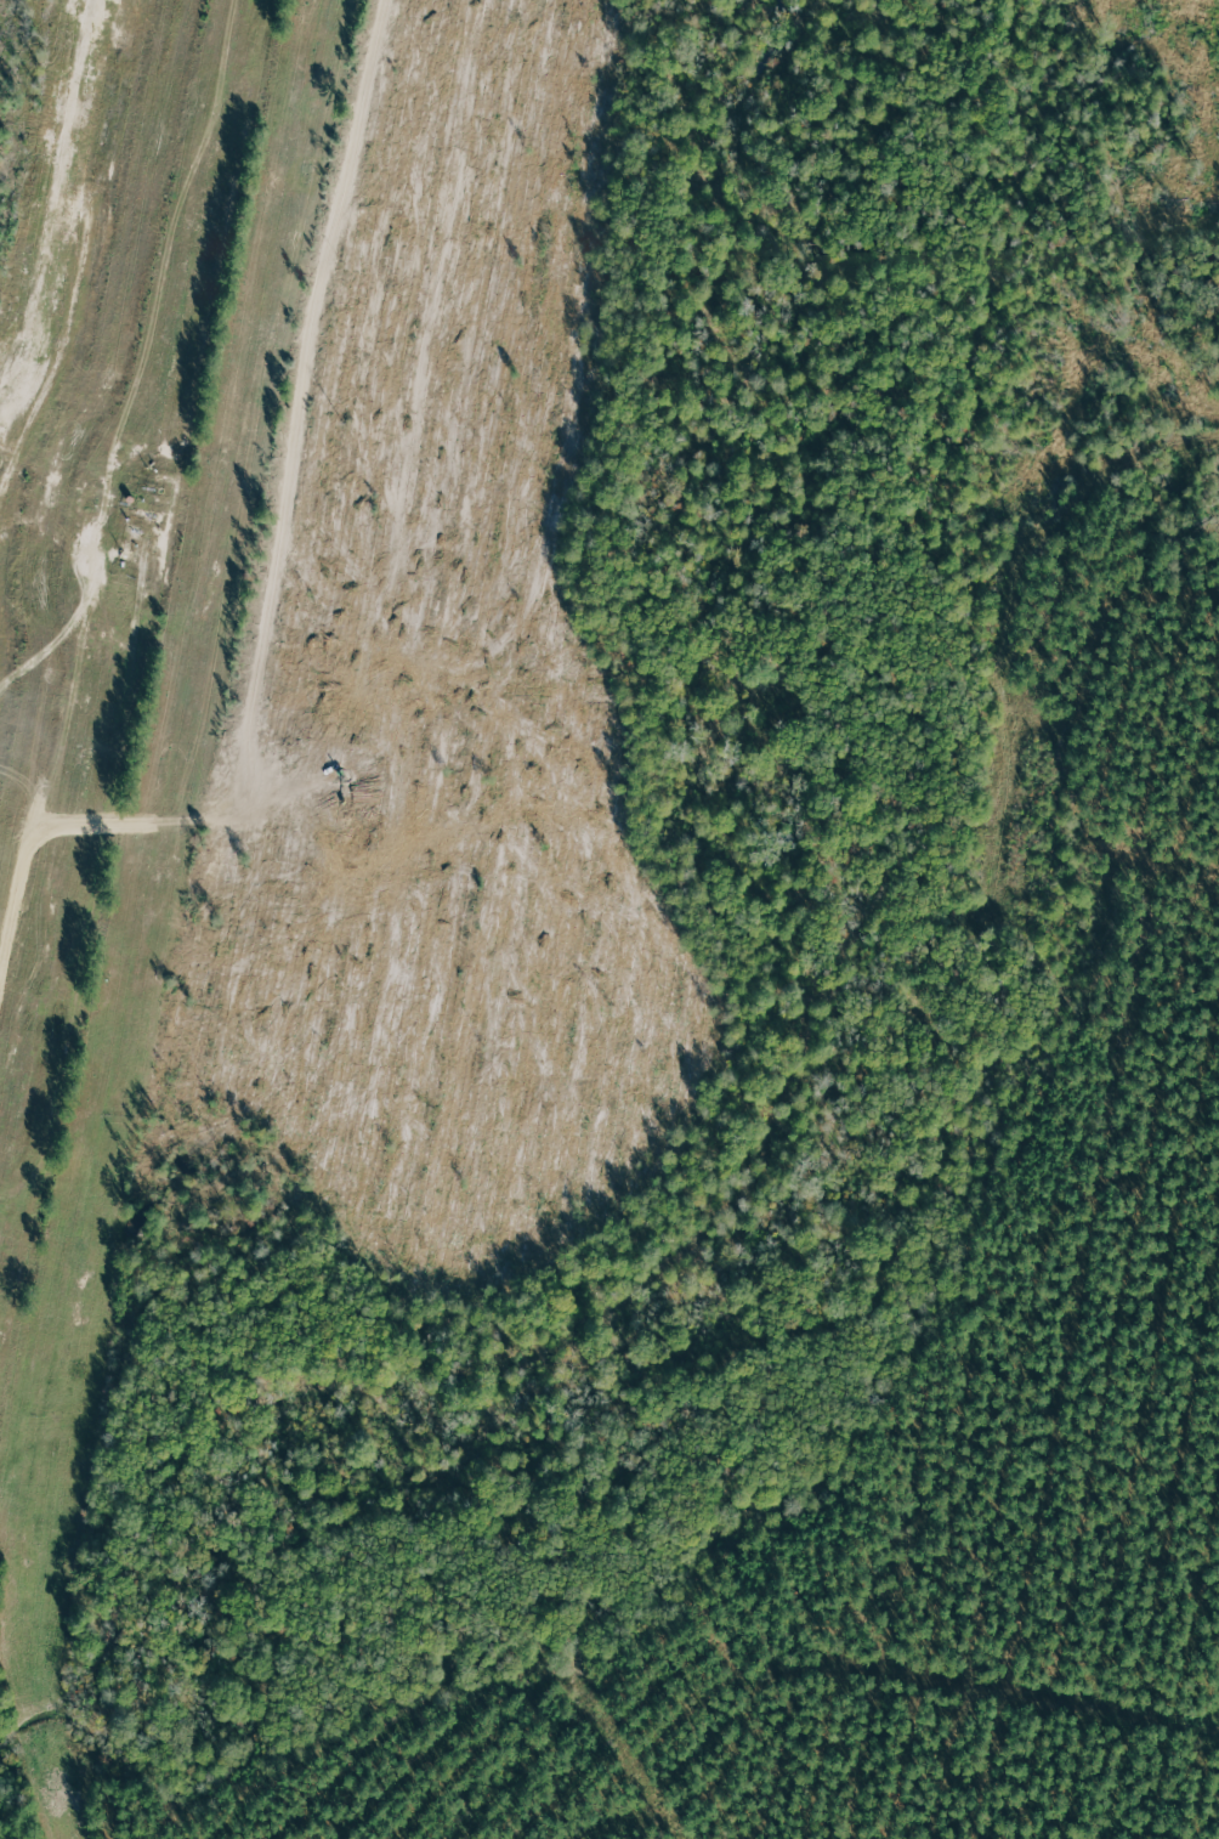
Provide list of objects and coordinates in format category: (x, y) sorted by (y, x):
road: (178, 592)

